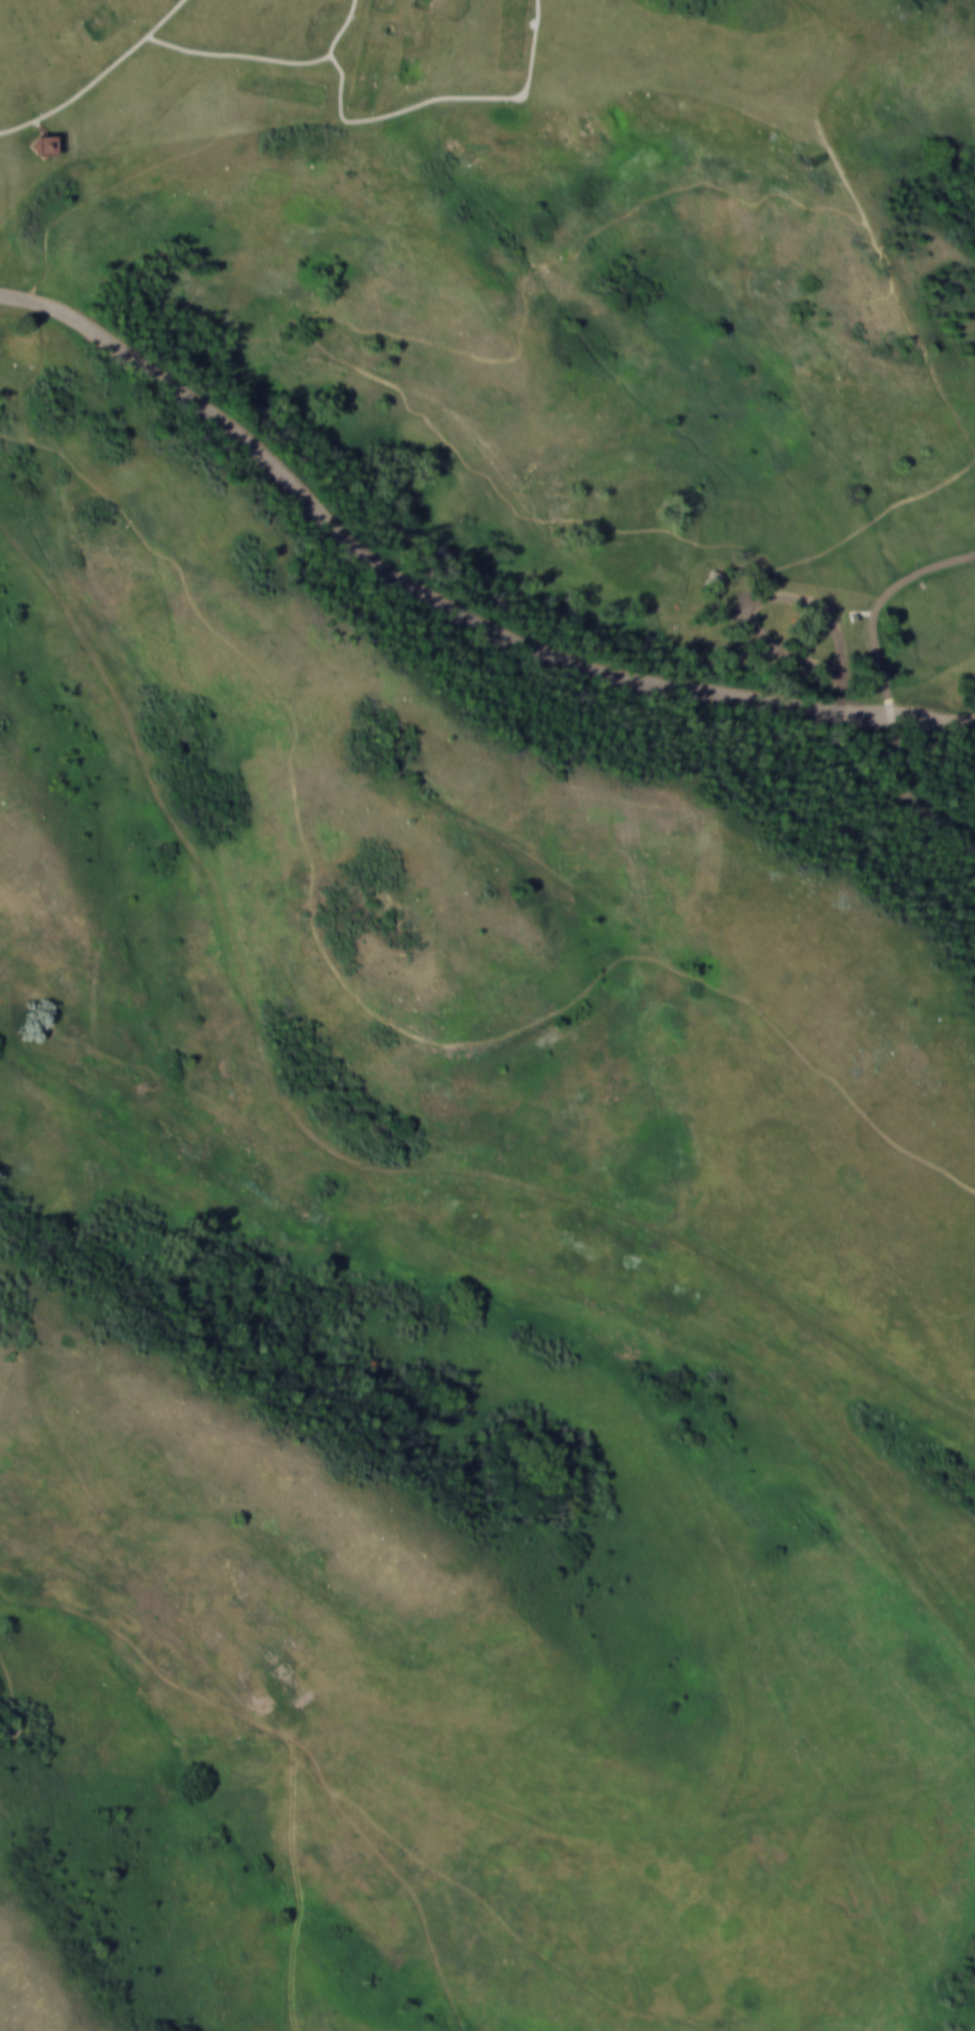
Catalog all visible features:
road: (162, 6)
road: (339, 28)
road: (531, 42)
road: (271, 59)
road: (97, 76)
building: (36, 145)
road: (447, 598)
road: (888, 690)
park: (487, 1015)
road: (324, 1149)

